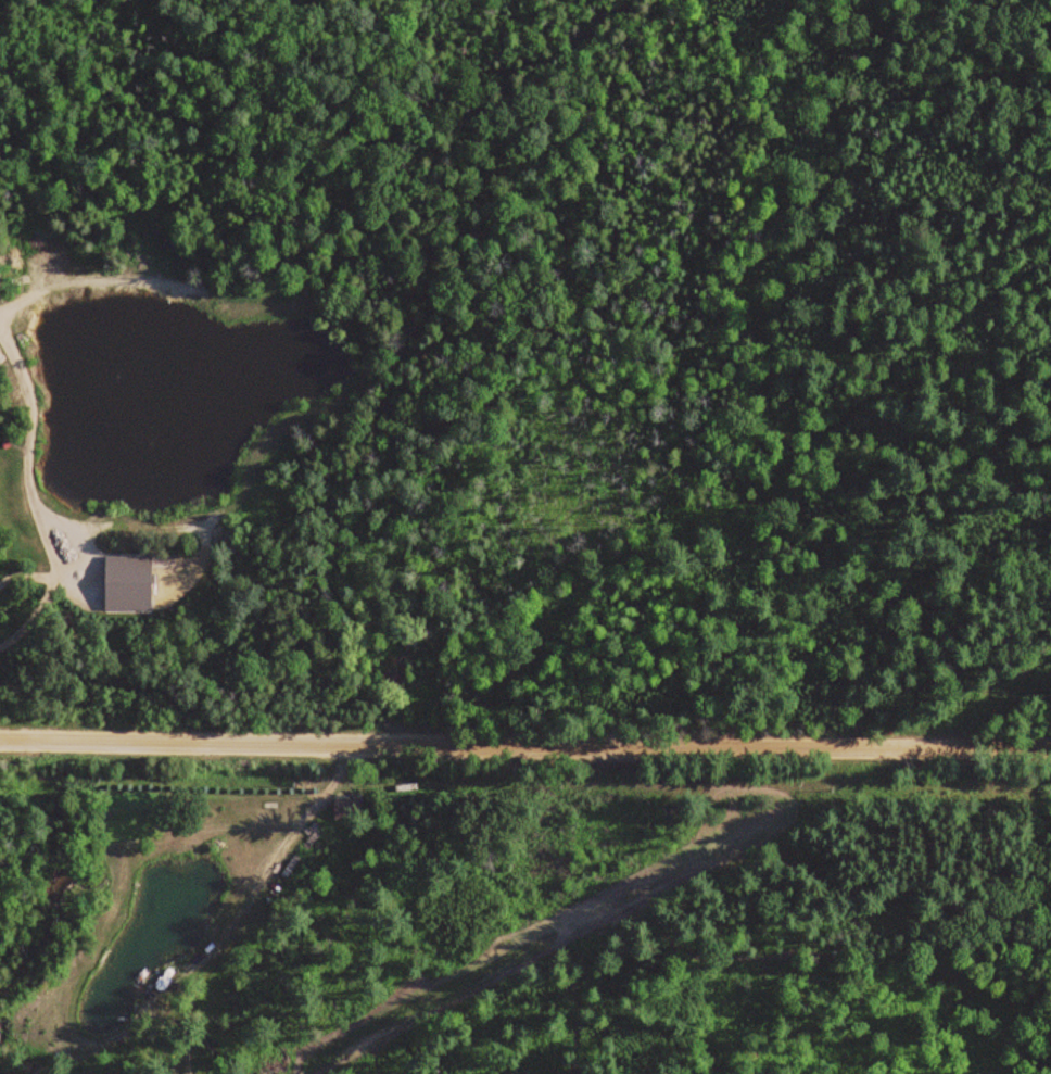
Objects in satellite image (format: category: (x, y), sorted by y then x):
road: (524, 745)

